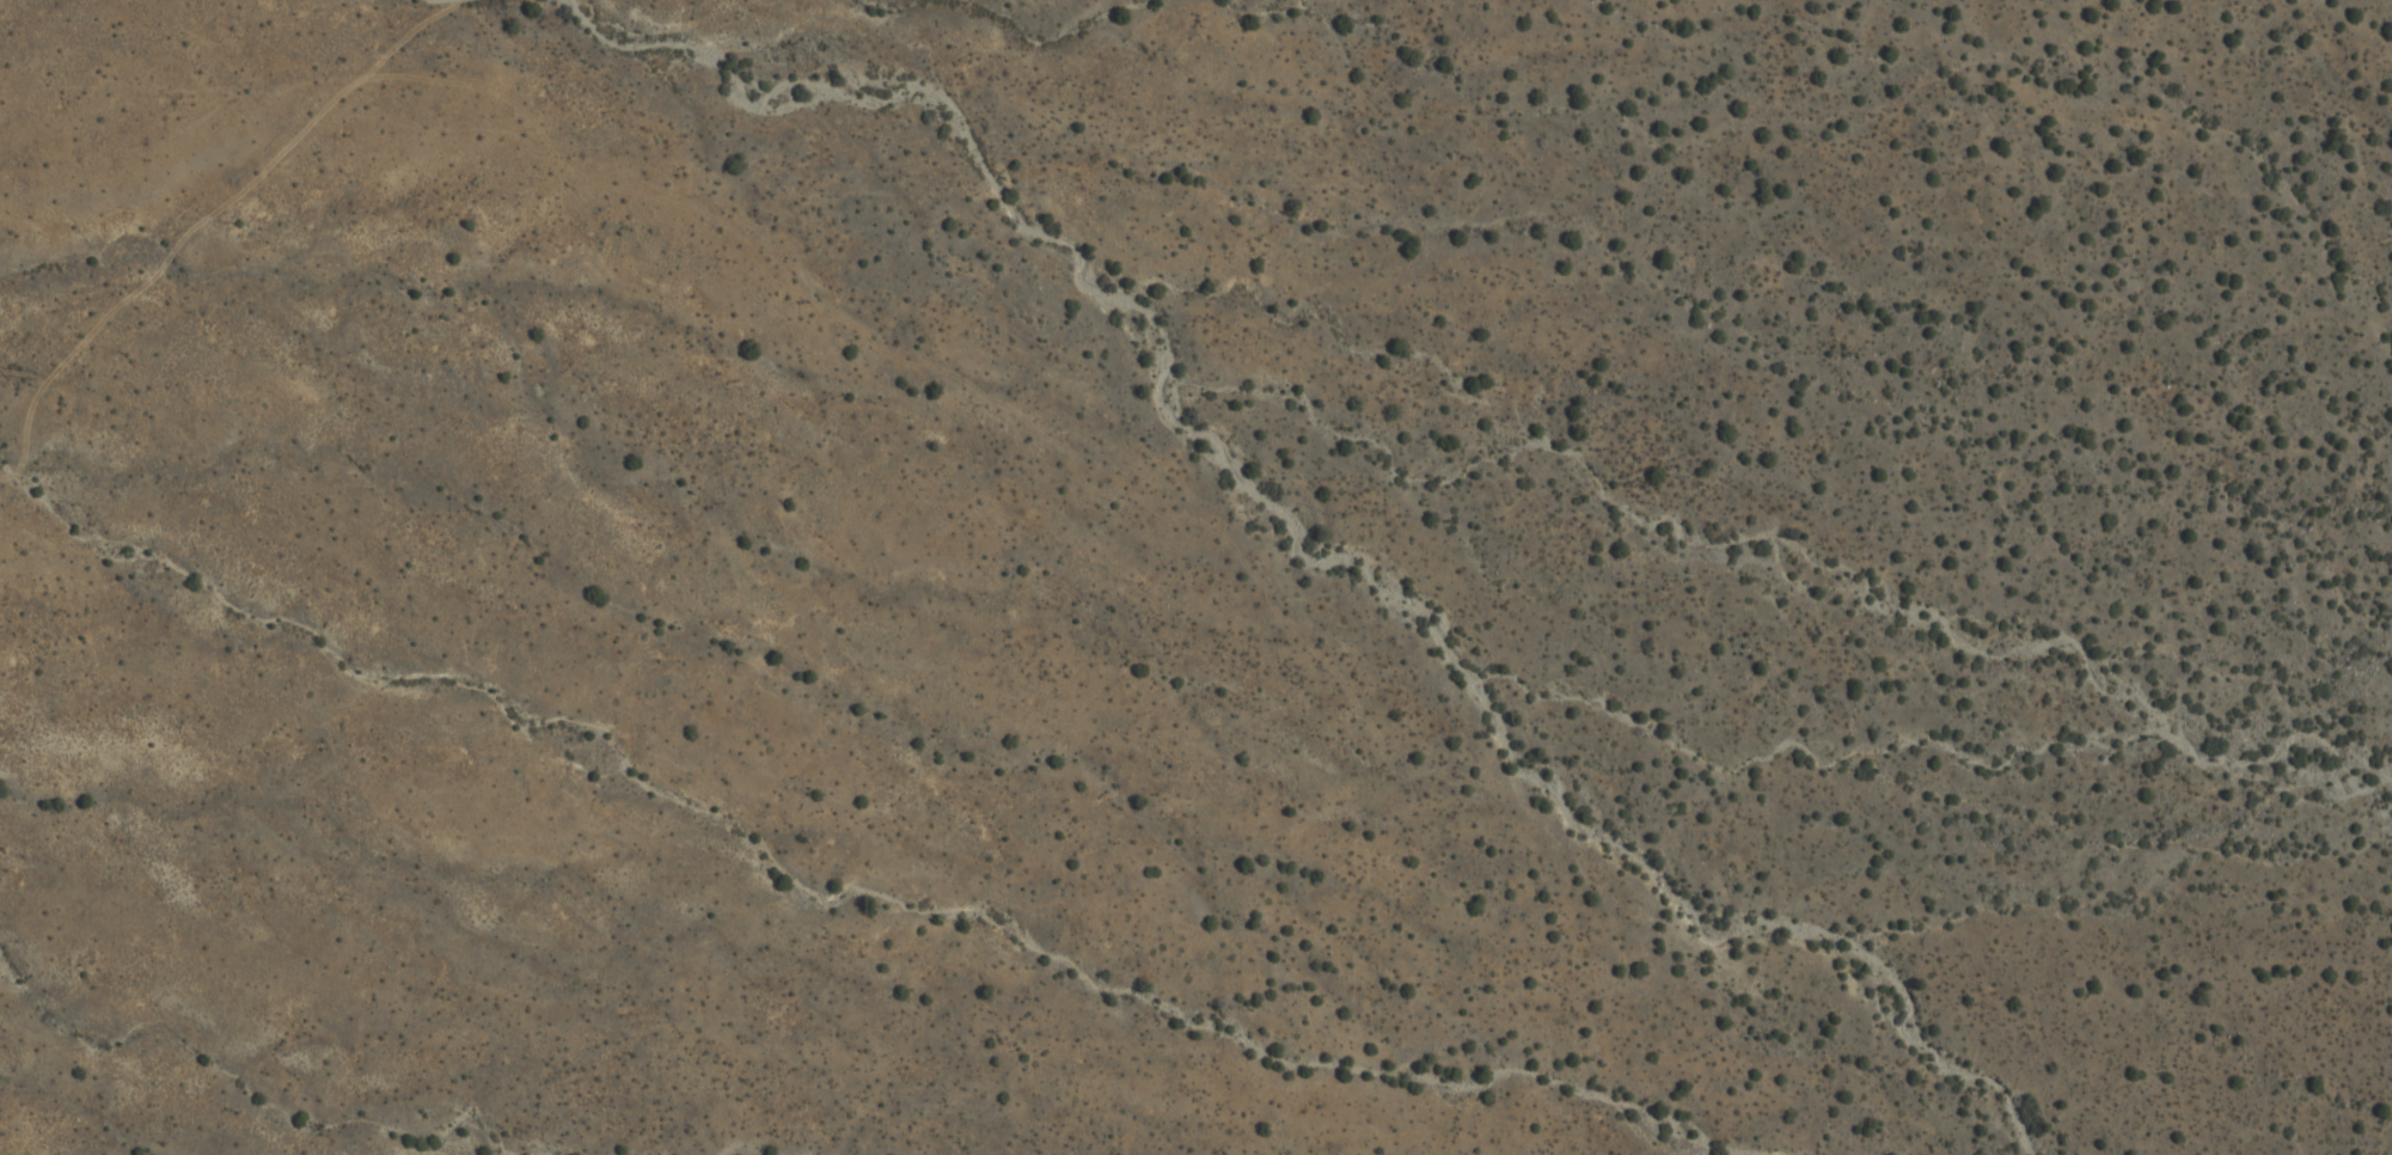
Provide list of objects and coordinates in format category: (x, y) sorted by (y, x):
power tower: (31, 374)

